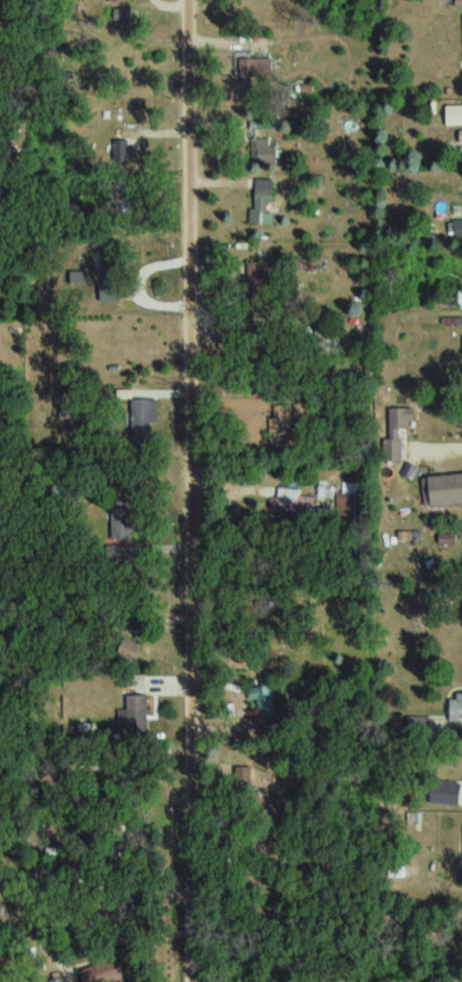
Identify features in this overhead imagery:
building: (260, 42)
building: (455, 115)
building: (267, 142)
building: (133, 151)
building: (265, 206)
building: (459, 227)
building: (113, 278)
building: (120, 338)
building: (145, 417)
building: (448, 489)
road: (196, 491)
building: (298, 501)
building: (127, 516)
building: (264, 695)
building: (457, 706)
building: (140, 712)
building: (423, 726)
building: (448, 793)
building: (56, 973)

